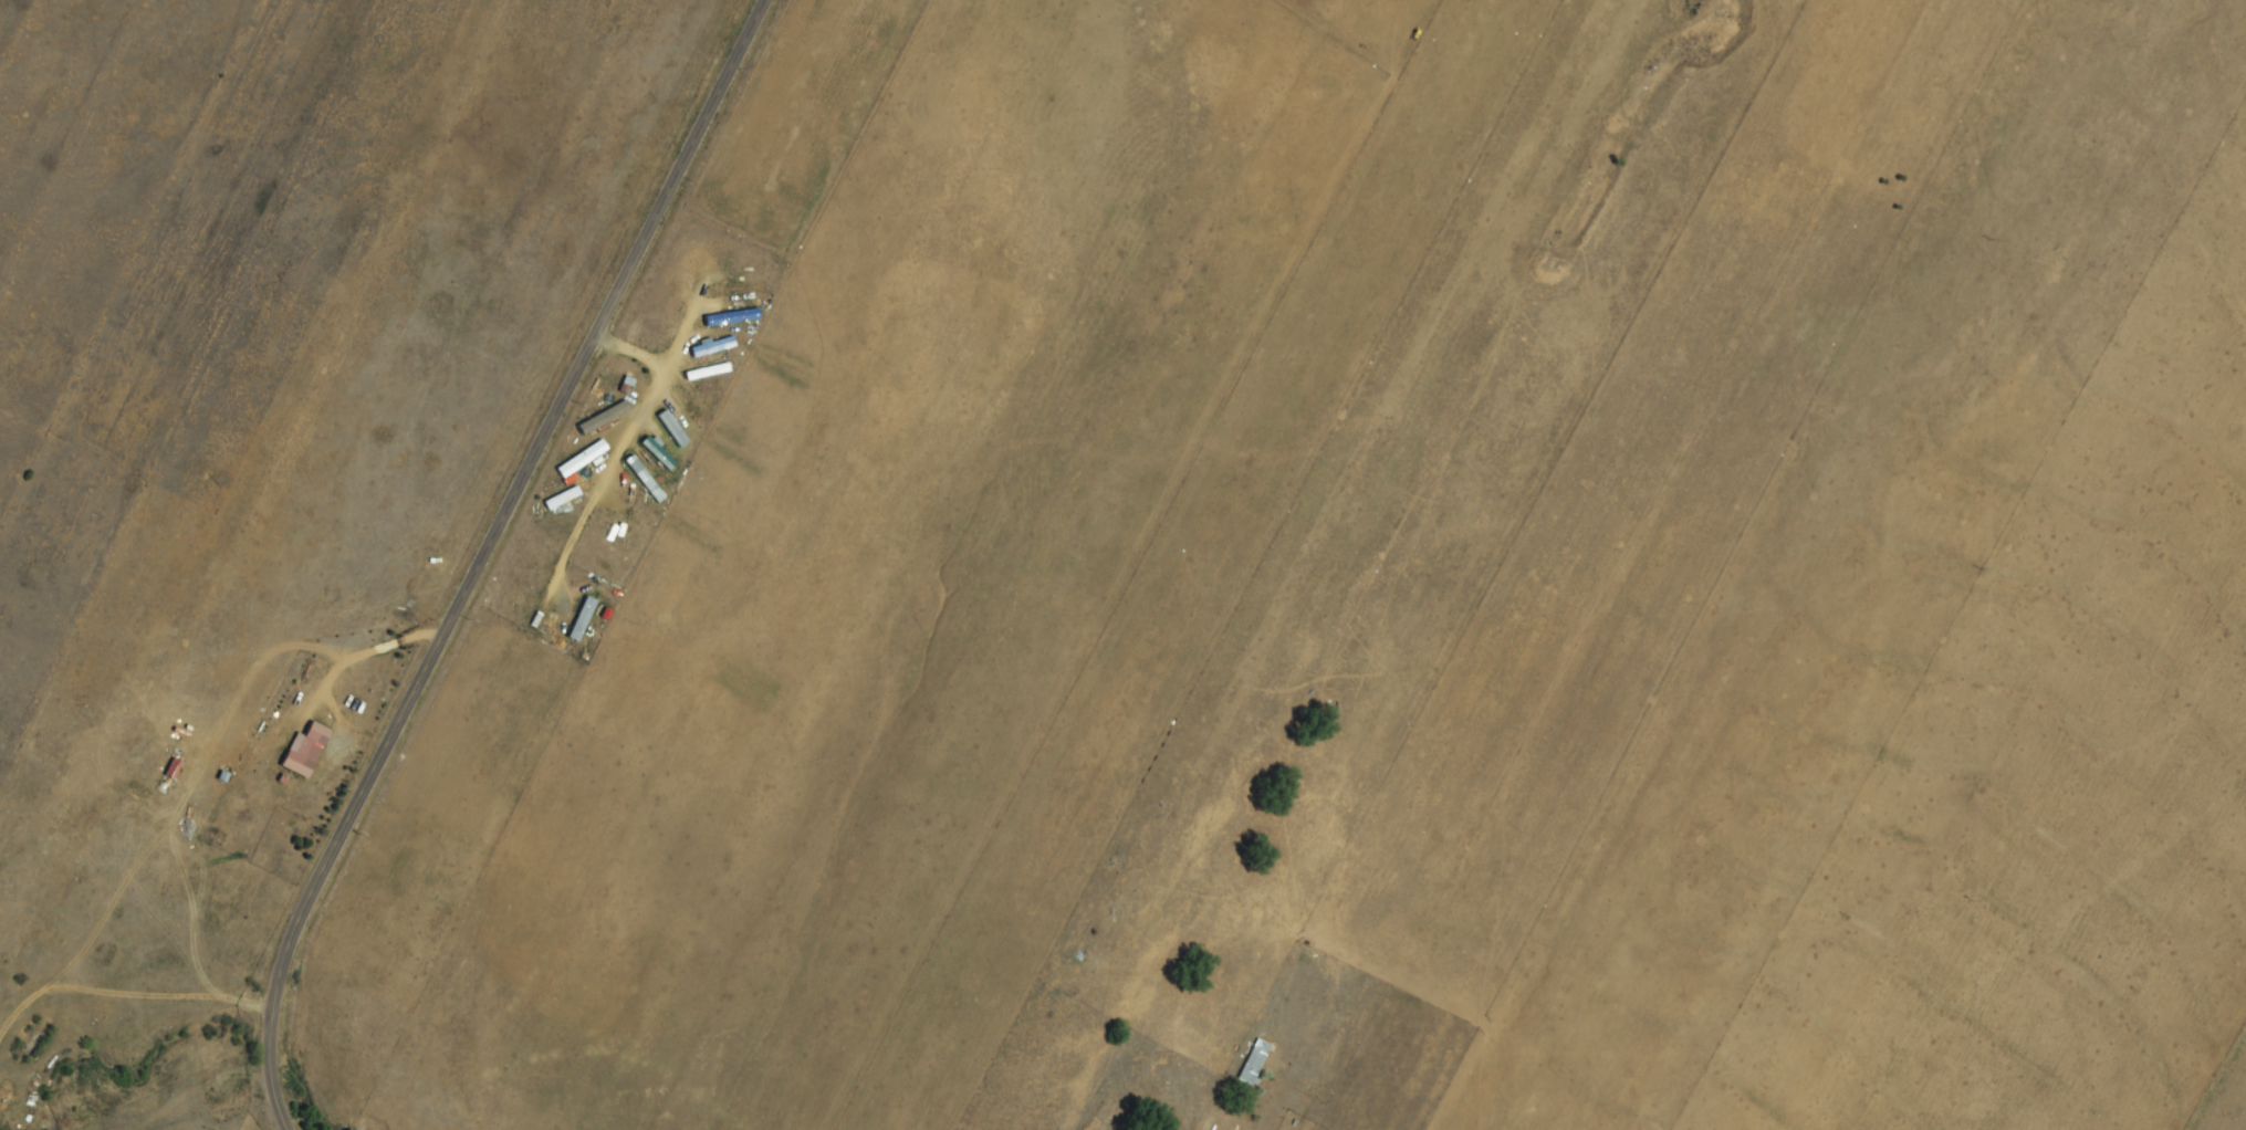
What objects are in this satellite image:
building: (740, 289)
building: (733, 318)
building: (715, 347)
building: (710, 372)
building: (691, 407)
building: (671, 425)
building: (660, 453)
building: (584, 459)
building: (647, 480)
building: (563, 498)
building: (615, 534)
road: (480, 556)
building: (521, 584)
building: (584, 619)
building: (310, 751)
building: (1250, 1063)
road: (210, 1102)

